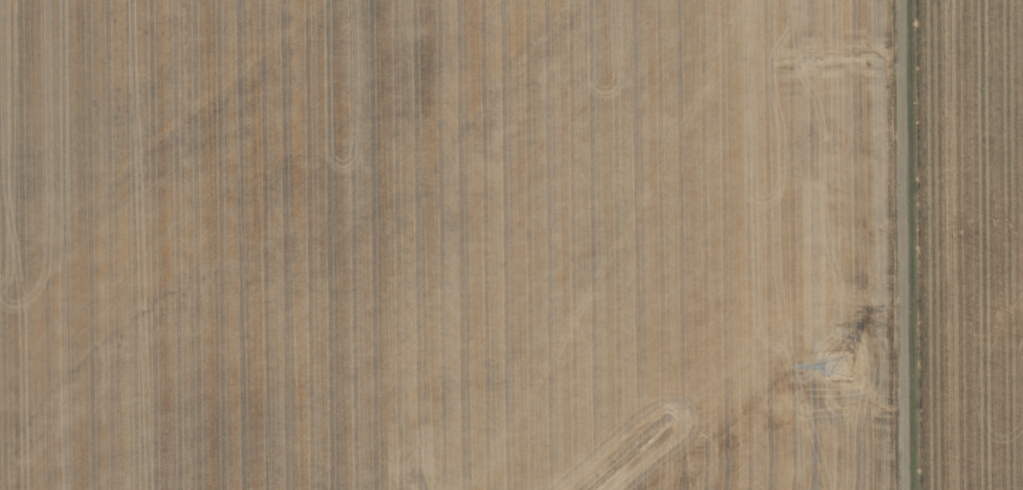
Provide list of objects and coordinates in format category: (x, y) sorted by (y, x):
road: (908, 245)
power tower: (836, 366)

